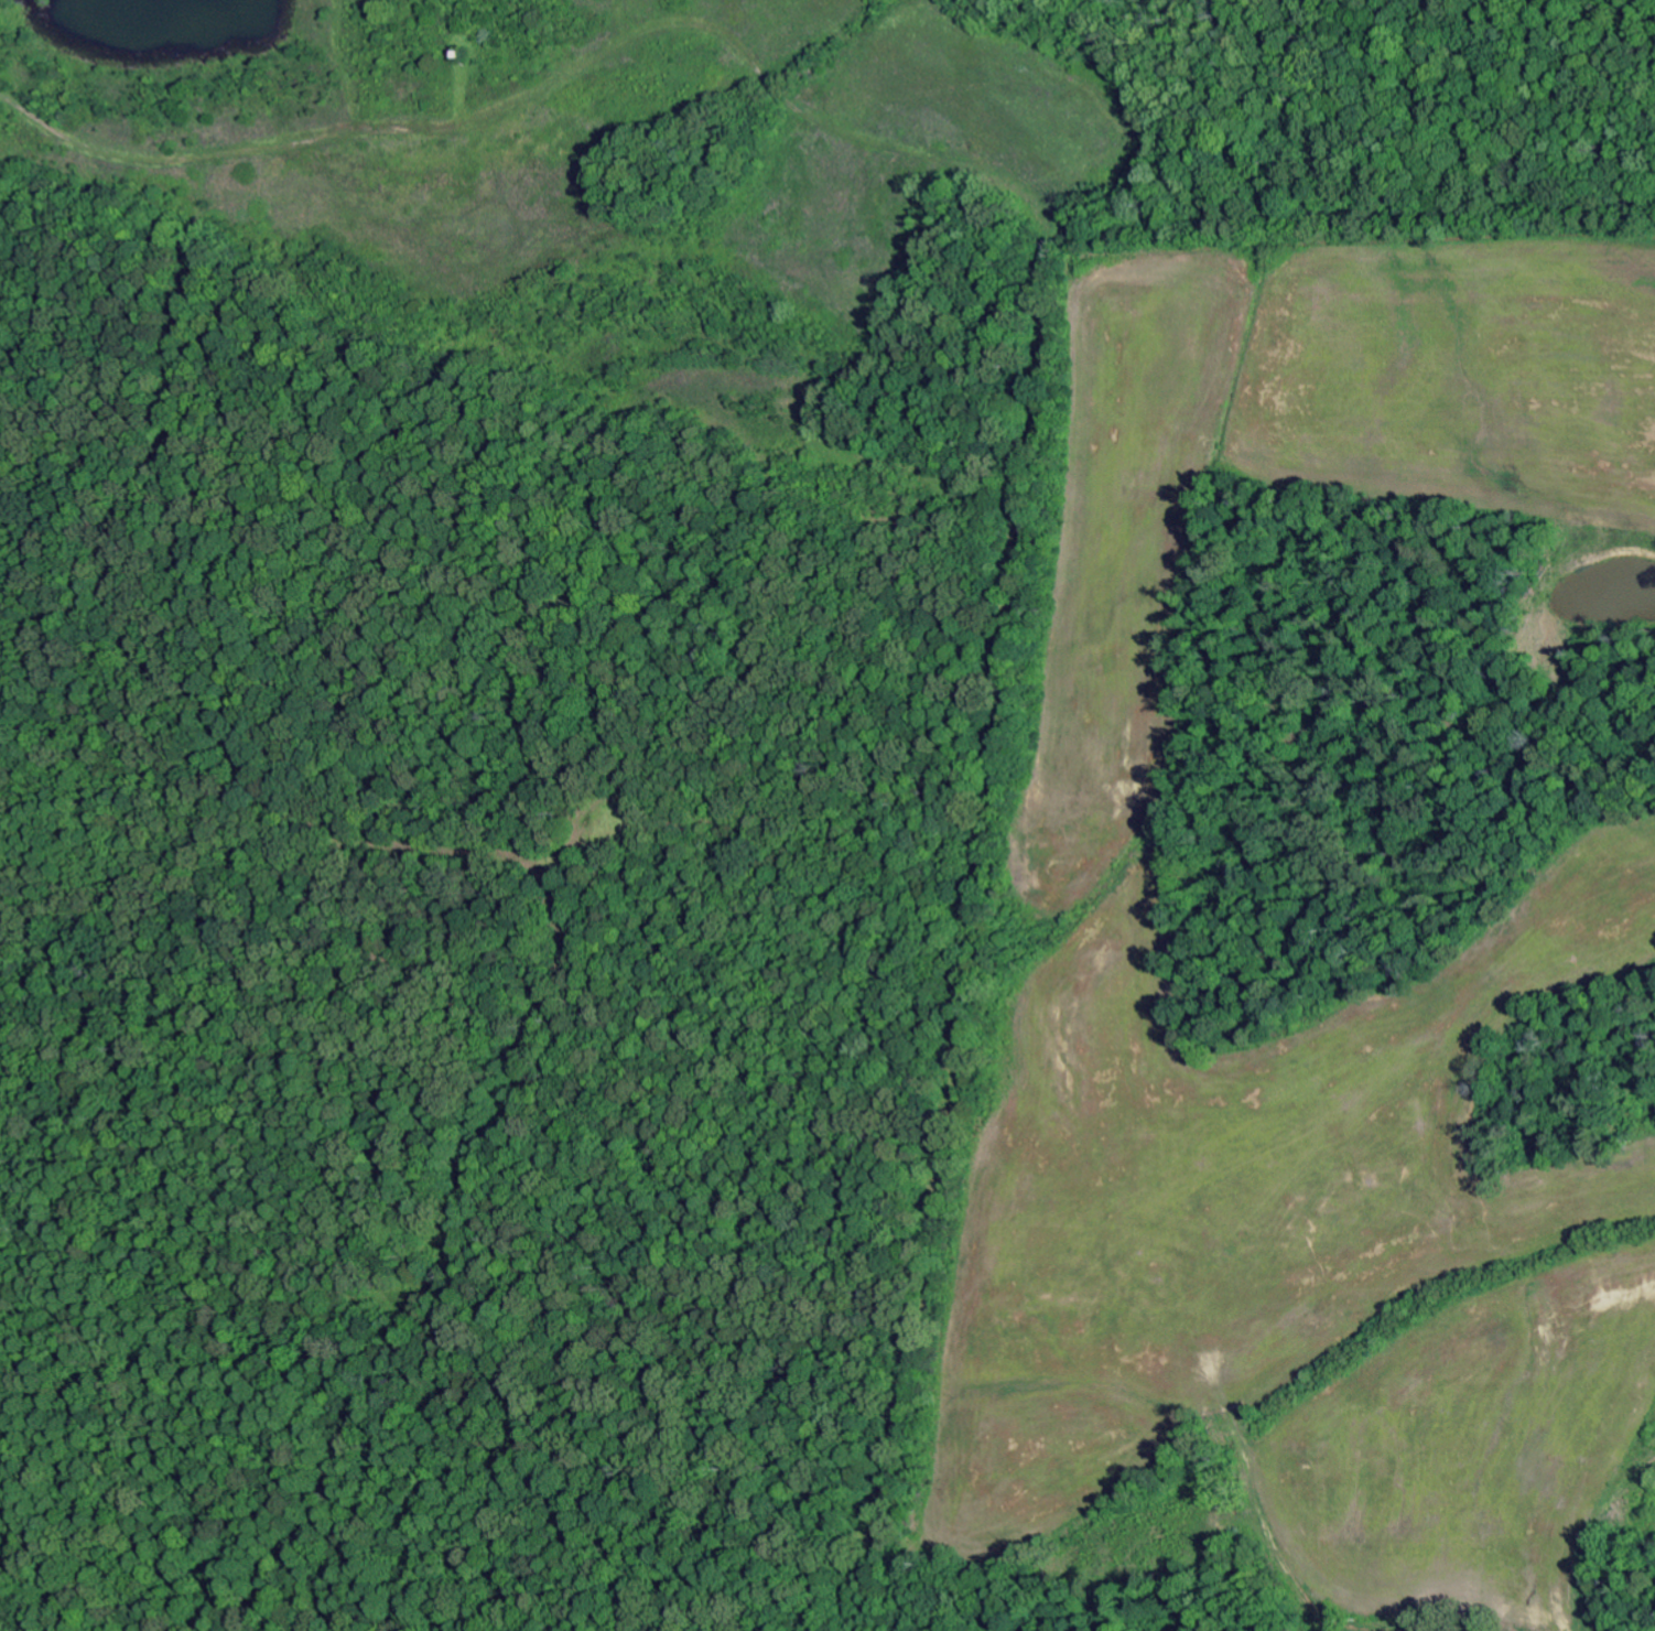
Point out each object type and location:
road: (1479, 1630)

